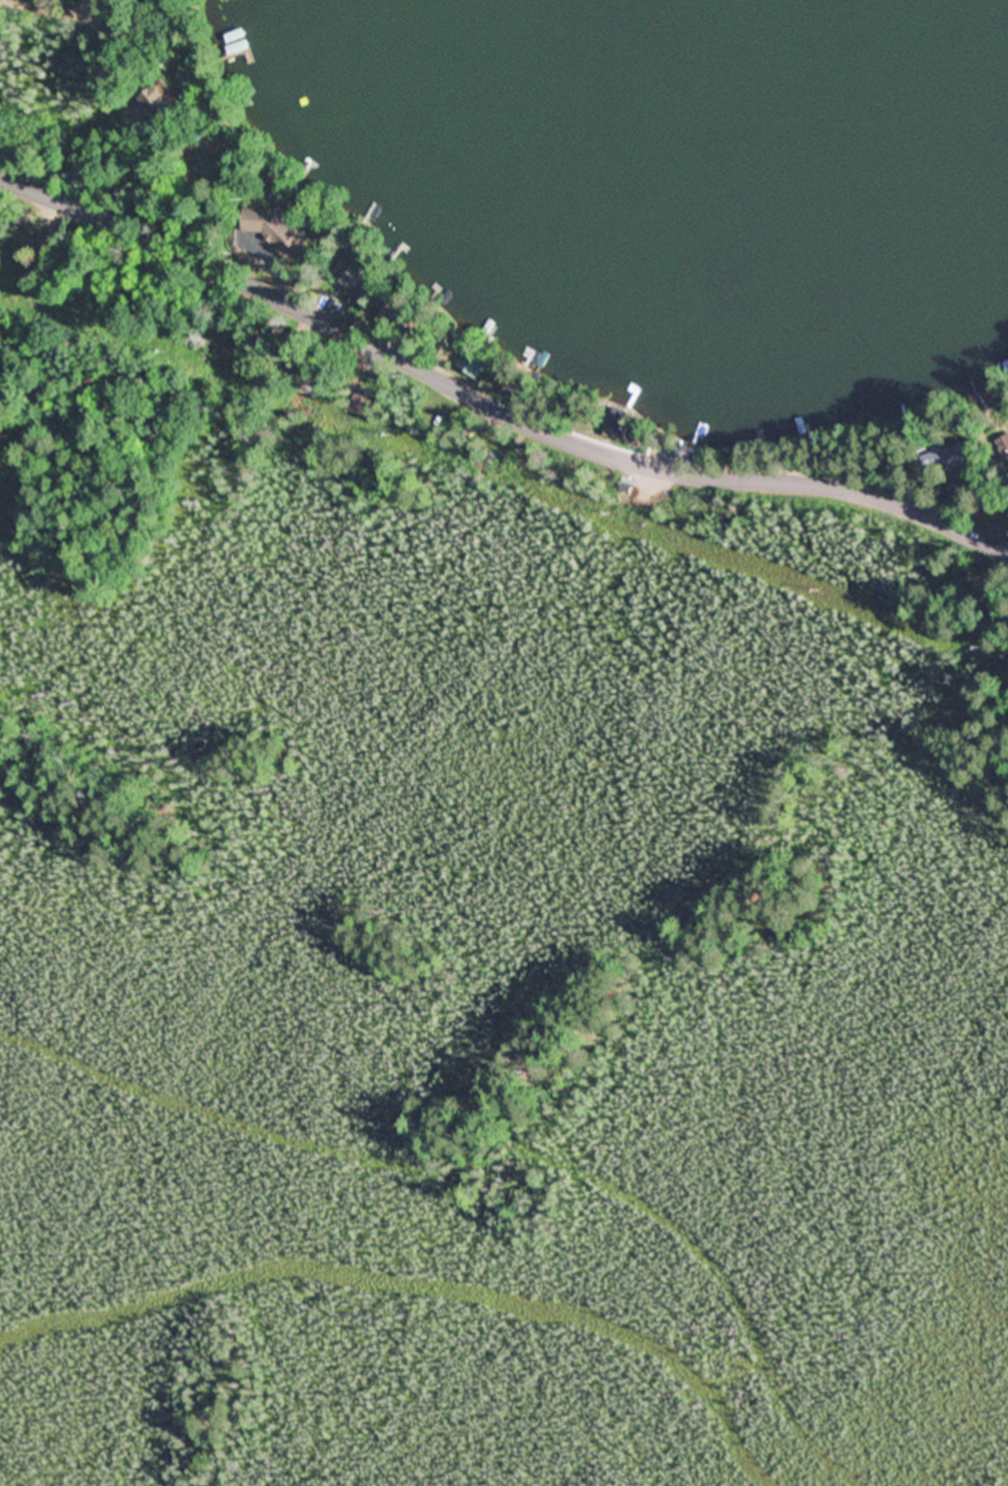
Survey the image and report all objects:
building: (117, 21)
building: (161, 103)
building: (210, 166)
building: (281, 227)
building: (40, 232)
building: (361, 279)
building: (393, 308)
building: (403, 309)
building: (460, 343)
building: (476, 364)
building: (313, 382)
building: (518, 386)
road: (492, 401)
building: (366, 403)
building: (626, 427)
building: (467, 438)
building: (999, 449)
building: (952, 455)
building: (628, 488)
building: (959, 493)

